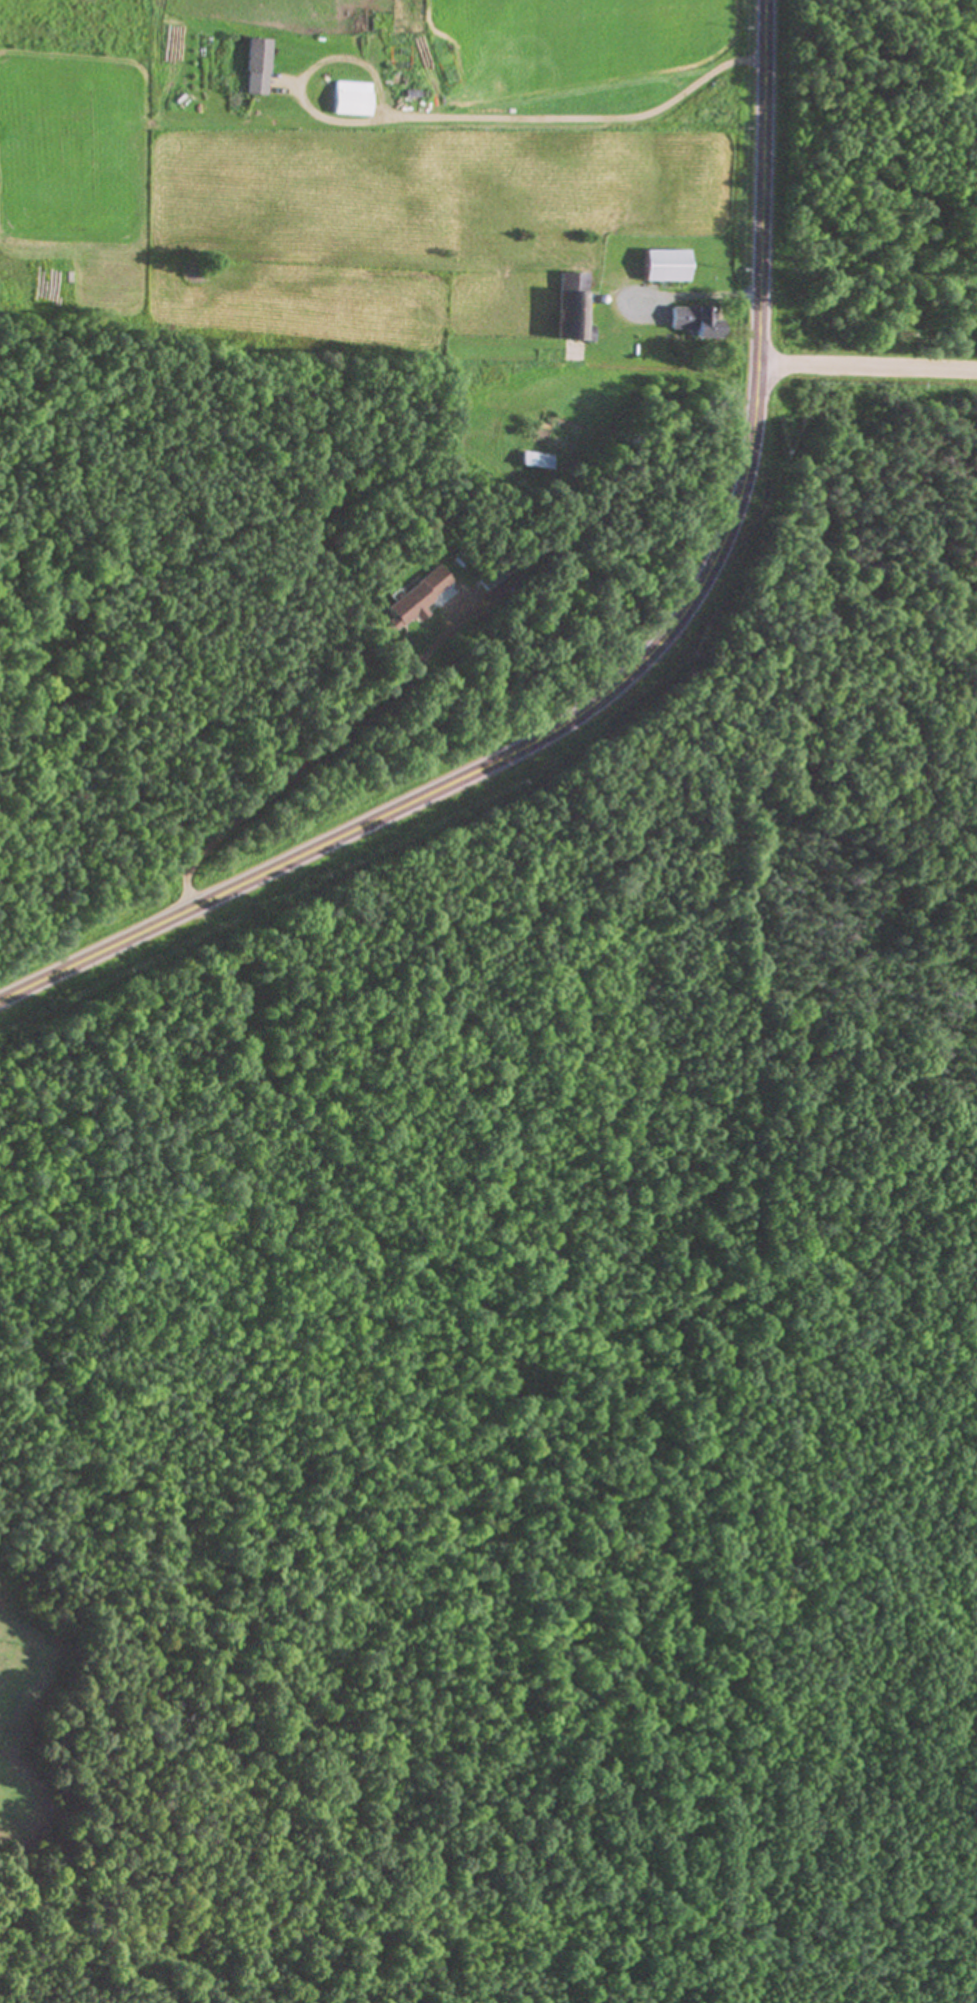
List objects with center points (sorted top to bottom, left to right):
building: (257, 67)
building: (353, 99)
building: (667, 266)
building: (574, 306)
building: (698, 322)
road: (868, 367)
building: (534, 459)
building: (418, 596)
road: (627, 672)

